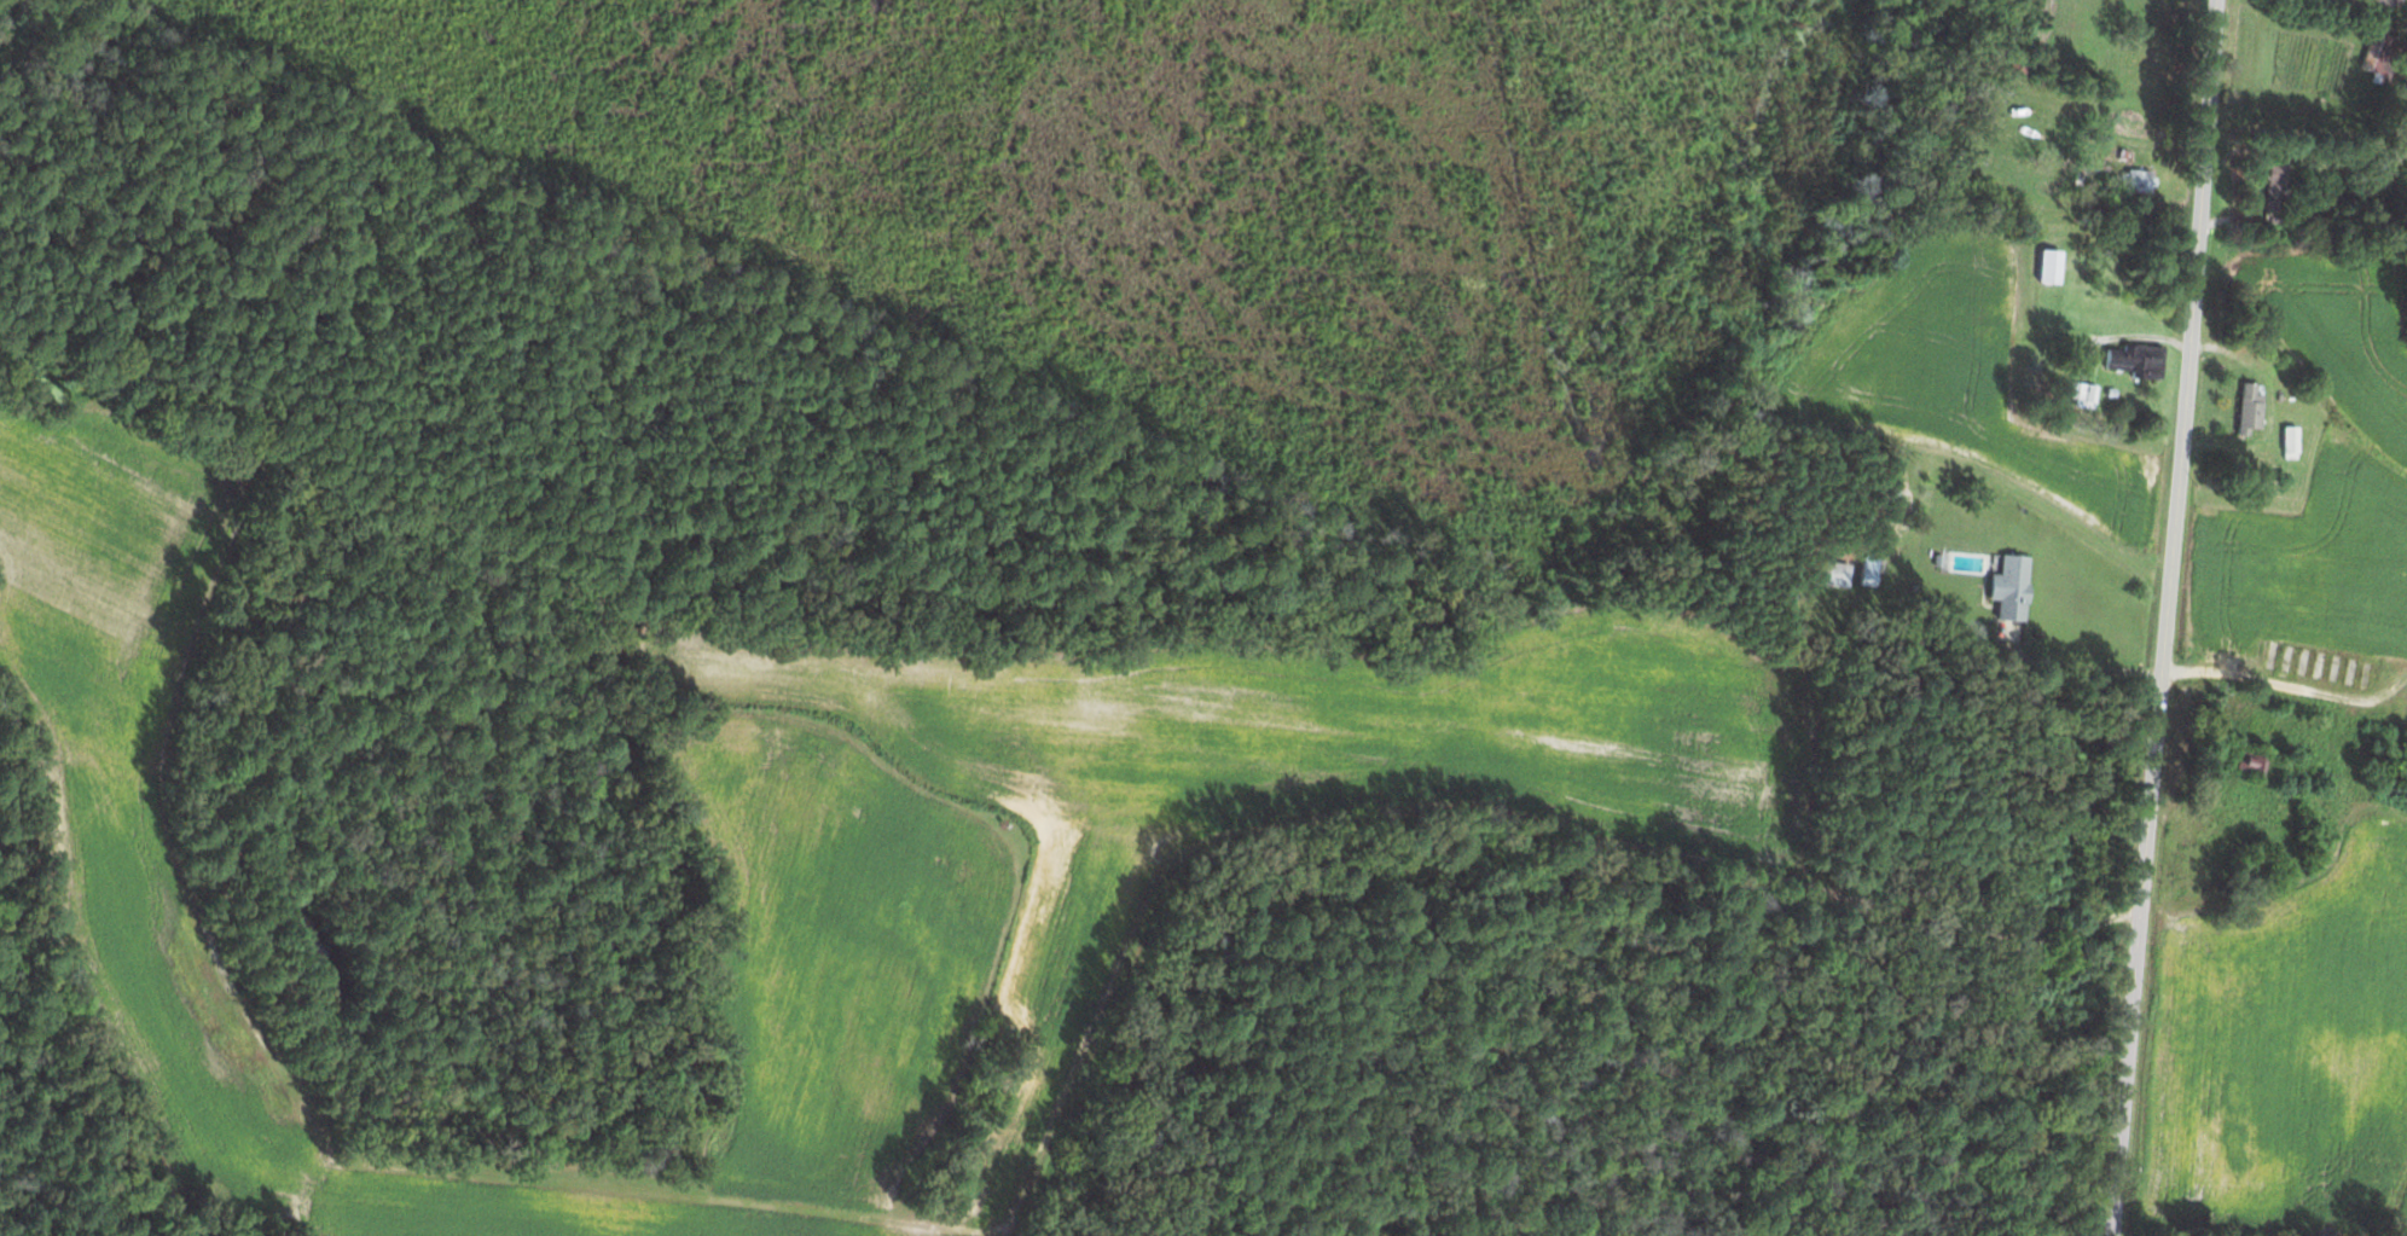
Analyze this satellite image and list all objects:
building: (2380, 2)
building: (2378, 59)
building: (2273, 180)
building: (2133, 181)
building: (2046, 268)
building: (2133, 362)
building: (2080, 396)
building: (2246, 411)
building: (2287, 443)
building: (1866, 573)
building: (1832, 576)
building: (2007, 590)
road: (2164, 617)
building: (2252, 765)

